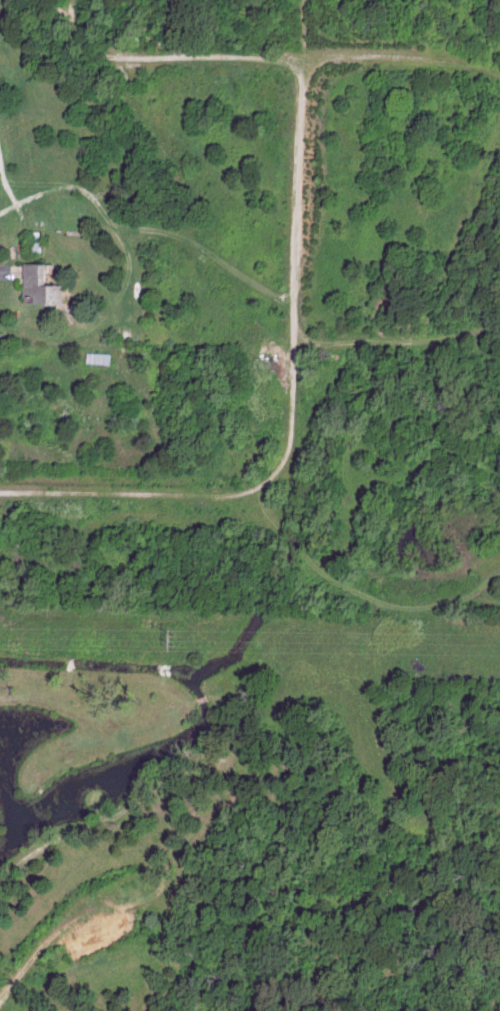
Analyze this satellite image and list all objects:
road: (4, 272)
road: (295, 272)
building: (35, 286)

